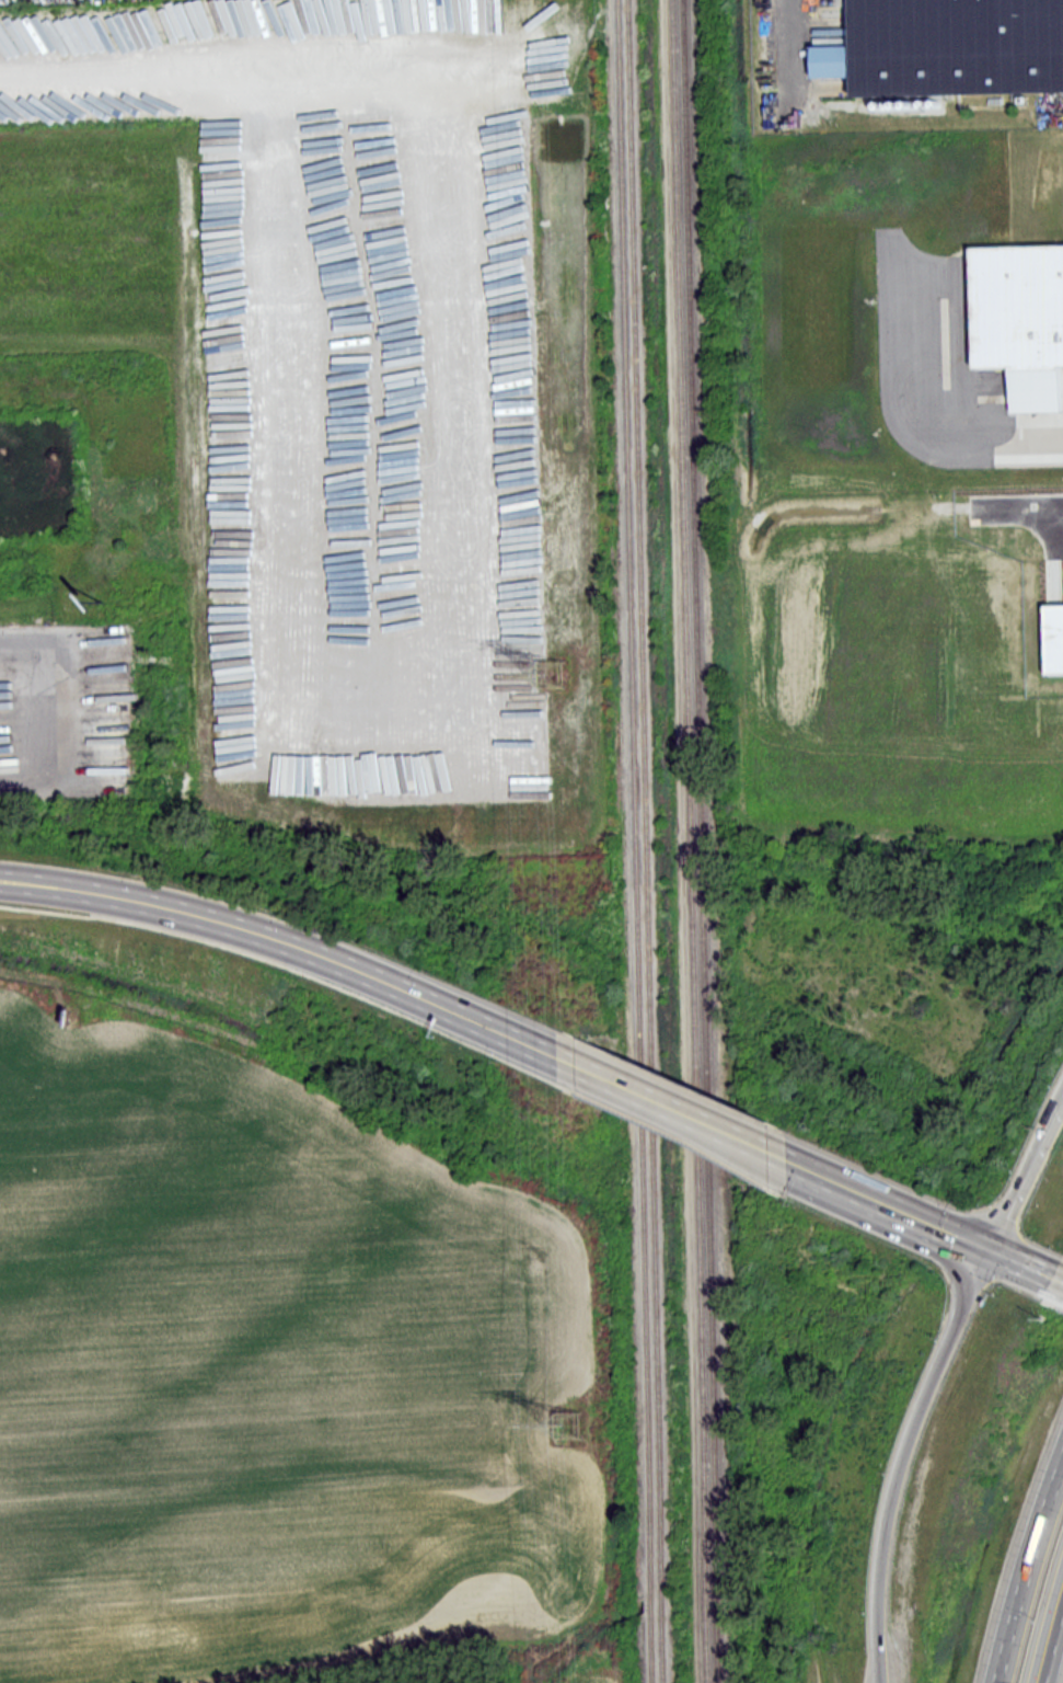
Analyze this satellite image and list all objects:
building: (954, 47)
building: (1016, 307)
building: (1054, 639)
power tower: (563, 671)
railway: (633, 841)
railway: (644, 841)
railway: (690, 841)
railway: (700, 841)
road: (287, 941)
road: (665, 1104)
road: (1028, 1173)
road: (882, 1201)
traffic signals: (995, 1249)
road: (1029, 1263)
crop: (265, 1356)
power tower: (569, 1419)
road: (904, 1457)
road: (1026, 1568)
road: (1049, 1637)
crop: (597, 1671)

